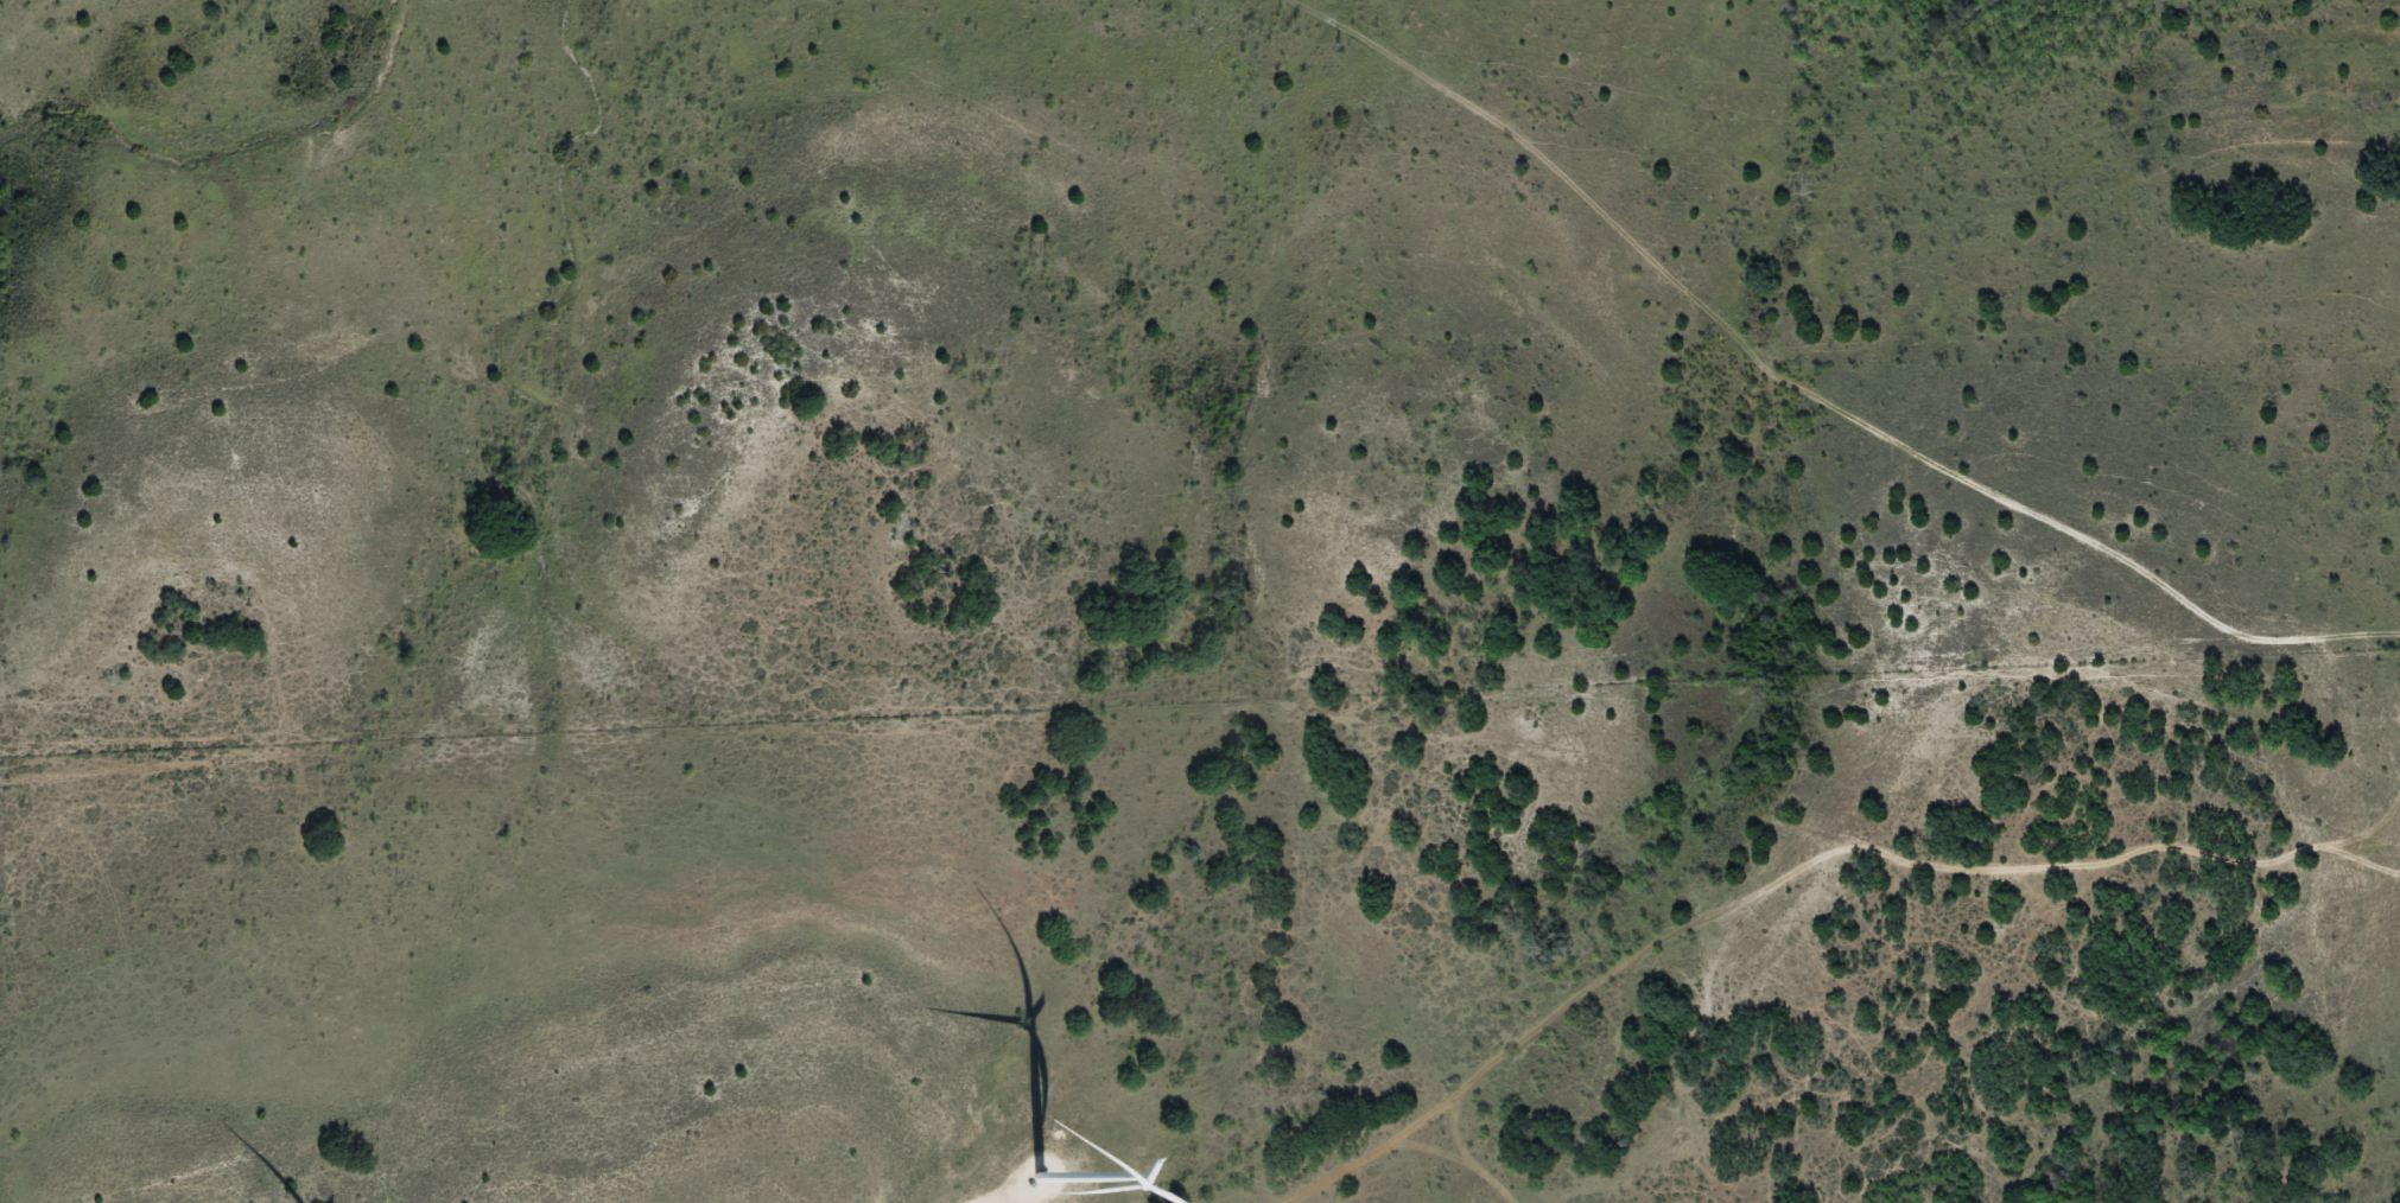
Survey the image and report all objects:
wind turbine: (1039, 1176)
road: (986, 1197)

